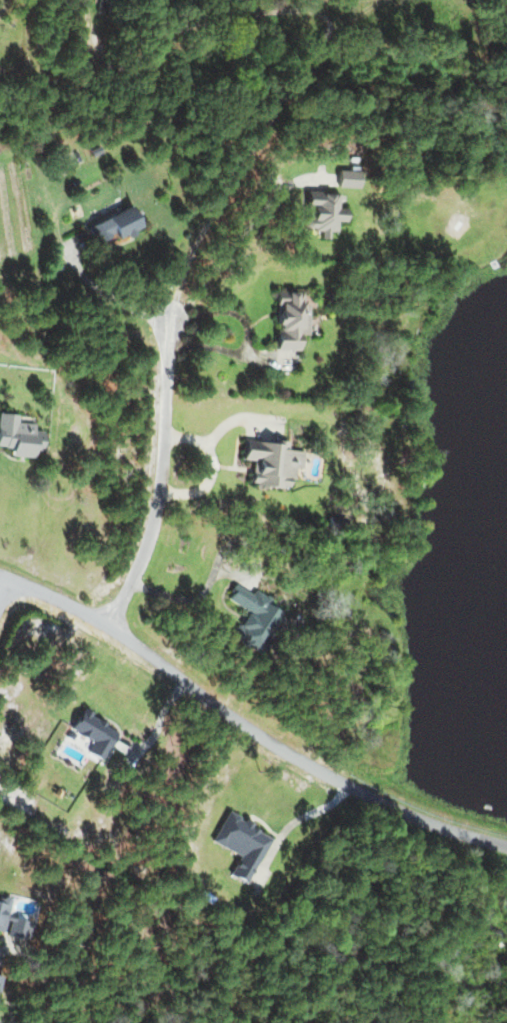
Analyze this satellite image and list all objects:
building: (103, 6)
road: (155, 46)
building: (348, 178)
building: (323, 212)
building: (114, 225)
road: (236, 242)
road: (110, 309)
building: (291, 320)
building: (19, 436)
building: (272, 462)
road: (159, 479)
road: (3, 584)
road: (55, 599)
building: (255, 619)
building: (94, 733)
road: (296, 759)
building: (241, 844)
building: (3, 912)
building: (20, 928)

